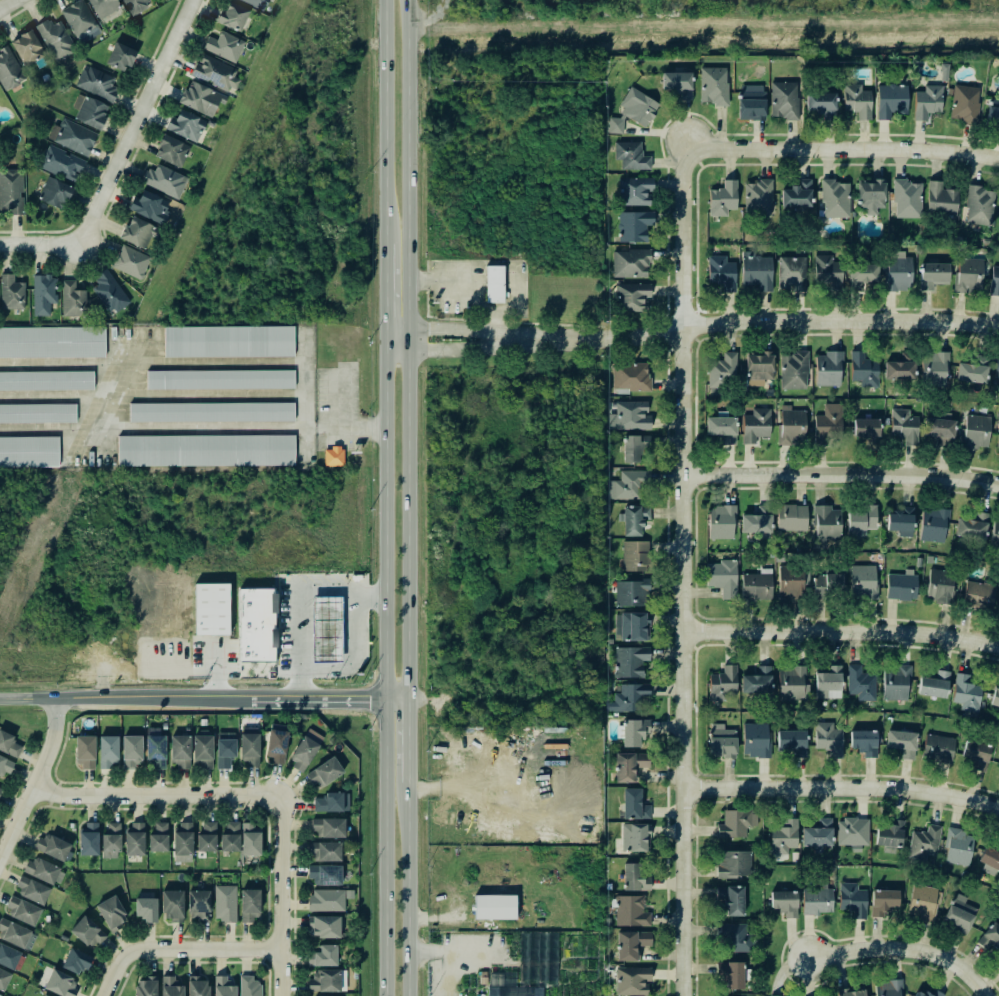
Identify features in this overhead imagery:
road: (177, 0)
road: (178, 0)
building: (255, 3)
building: (135, 5)
road: (10, 6)
building: (103, 7)
building: (232, 17)
building: (77, 18)
park: (157, 21)
road: (164, 29)
building: (56, 39)
building: (223, 46)
building: (27, 47)
building: (120, 57)
building: (9, 69)
building: (941, 72)
building: (216, 73)
building: (97, 83)
building: (674, 84)
building: (711, 87)
building: (200, 99)
building: (782, 101)
building: (855, 101)
building: (889, 101)
building: (817, 103)
building: (926, 103)
building: (748, 105)
building: (962, 105)
building: (630, 111)
building: (91, 113)
building: (991, 115)
road: (381, 122)
building: (184, 126)
road: (862, 135)
building: (73, 136)
road: (841, 150)
building: (170, 151)
building: (628, 156)
road: (119, 158)
building: (60, 162)
building: (165, 181)
building: (632, 191)
building: (10, 192)
building: (54, 192)
building: (794, 196)
building: (868, 196)
building: (755, 198)
building: (720, 199)
building: (832, 199)
building: (904, 199)
building: (939, 203)
building: (977, 206)
building: (147, 207)
building: (998, 213)
building: (632, 226)
building: (138, 233)
building: (130, 261)
building: (628, 263)
building: (896, 271)
building: (753, 273)
building: (825, 274)
building: (719, 275)
building: (789, 275)
building: (965, 275)
building: (858, 276)
building: (931, 276)
building: (993, 281)
building: (494, 284)
building: (107, 292)
building: (11, 293)
building: (43, 294)
road: (380, 294)
building: (629, 297)
building: (71, 299)
road: (689, 327)
building: (50, 341)
building: (226, 341)
road: (406, 347)
road: (151, 364)
building: (931, 366)
building: (897, 367)
building: (755, 368)
building: (826, 368)
building: (791, 370)
building: (862, 370)
building: (969, 370)
building: (720, 373)
building: (995, 373)
building: (628, 377)
building: (44, 380)
building: (218, 380)
building: (766, 392)
road: (303, 399)
road: (339, 401)
building: (209, 411)
building: (36, 413)
building: (629, 416)
building: (826, 421)
building: (901, 424)
building: (753, 425)
road: (151, 427)
road: (360, 427)
building: (863, 427)
building: (937, 427)
building: (788, 428)
building: (718, 429)
building: (974, 430)
building: (996, 442)
building: (630, 448)
building: (203, 450)
building: (27, 452)
building: (331, 457)
road: (841, 475)
building: (625, 484)
building: (789, 518)
building: (631, 519)
building: (860, 519)
building: (719, 521)
building: (898, 521)
building: (824, 523)
building: (752, 524)
building: (931, 524)
building: (969, 527)
building: (993, 534)
building: (633, 556)
building: (917, 564)
road: (682, 567)
building: (721, 578)
building: (788, 582)
building: (860, 582)
building: (754, 586)
building: (825, 586)
building: (899, 586)
building: (937, 586)
building: (628, 592)
road: (291, 596)
building: (976, 596)
building: (998, 603)
building: (211, 609)
building: (256, 625)
building: (631, 626)
gas station: (327, 630)
road: (841, 631)
building: (628, 661)
road: (381, 669)
building: (754, 681)
building: (825, 681)
building: (894, 681)
building: (789, 682)
building: (720, 683)
building: (858, 683)
building: (931, 685)
building: (963, 693)
road: (203, 696)
building: (627, 698)
building: (993, 699)
building: (631, 732)
building: (827, 739)
building: (754, 740)
building: (719, 741)
building: (276, 742)
building: (790, 742)
building: (861, 742)
building: (899, 743)
building: (9, 745)
road: (407, 745)
building: (155, 747)
building: (250, 747)
building: (936, 748)
building: (202, 749)
building: (225, 749)
building: (305, 749)
building: (108, 751)
building: (131, 751)
building: (180, 751)
building: (85, 752)
building: (974, 755)
building: (997, 761)
building: (4, 766)
building: (625, 766)
building: (324, 772)
road: (35, 779)
road: (841, 788)
building: (0, 789)
road: (156, 795)
building: (331, 803)
building: (631, 806)
building: (733, 824)
building: (328, 827)
building: (850, 831)
building: (816, 834)
building: (888, 834)
building: (207, 837)
building: (230, 837)
building: (781, 837)
building: (159, 838)
building: (633, 838)
building: (88, 839)
building: (134, 839)
building: (250, 839)
building: (111, 841)
building: (182, 843)
building: (922, 843)
building: (52, 846)
building: (956, 848)
building: (853, 849)
building: (323, 851)
building: (793, 856)
building: (989, 858)
building: (731, 864)
building: (42, 871)
building: (325, 875)
building: (631, 879)
building: (32, 890)
road: (281, 895)
road: (407, 896)
building: (326, 900)
building: (850, 900)
building: (814, 901)
building: (729, 902)
building: (880, 902)
building: (921, 902)
building: (225, 903)
building: (782, 903)
building: (172, 904)
building: (199, 904)
building: (249, 905)
building: (495, 907)
building: (146, 909)
building: (22, 911)
building: (628, 912)
building: (112, 913)
building: (957, 914)
building: (324, 927)
building: (88, 932)
building: (13, 933)
building: (734, 936)
building: (988, 937)
building: (627, 944)
road: (204, 949)
road: (446, 950)
road: (905, 950)
building: (323, 956)
building: (8, 957)
building: (76, 961)
building: (998, 964)
road: (113, 973)
building: (728, 976)
building: (3, 979)
building: (629, 980)
building: (325, 981)
building: (61, 984)
building: (198, 986)
building: (223, 986)
building: (250, 986)
building: (146, 987)
building: (171, 987)
building: (886, 988)
building: (514, 991)
building: (846, 993)
building: (927, 993)
building: (2, 994)
building: (44, 995)

